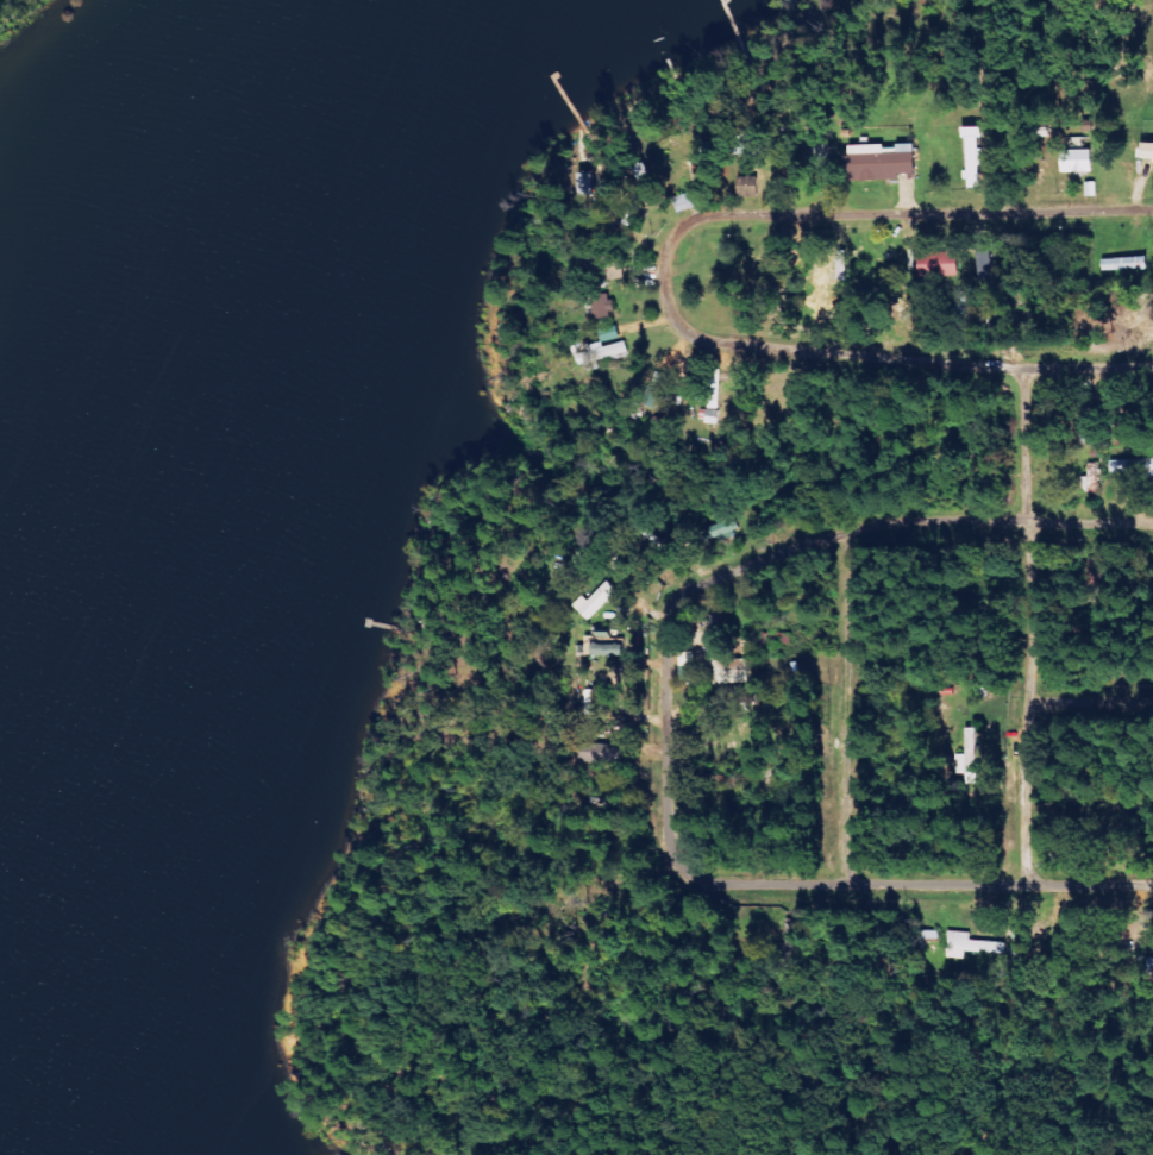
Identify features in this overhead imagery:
building: (1146, 150)
building: (971, 157)
building: (876, 161)
building: (1074, 161)
road: (917, 218)
building: (935, 264)
building: (602, 306)
building: (602, 347)
road: (858, 354)
building: (1130, 464)
building: (718, 529)
building: (594, 601)
road: (1024, 627)
building: (604, 645)
road: (1089, 703)
road: (841, 709)
road: (662, 724)
building: (969, 946)

